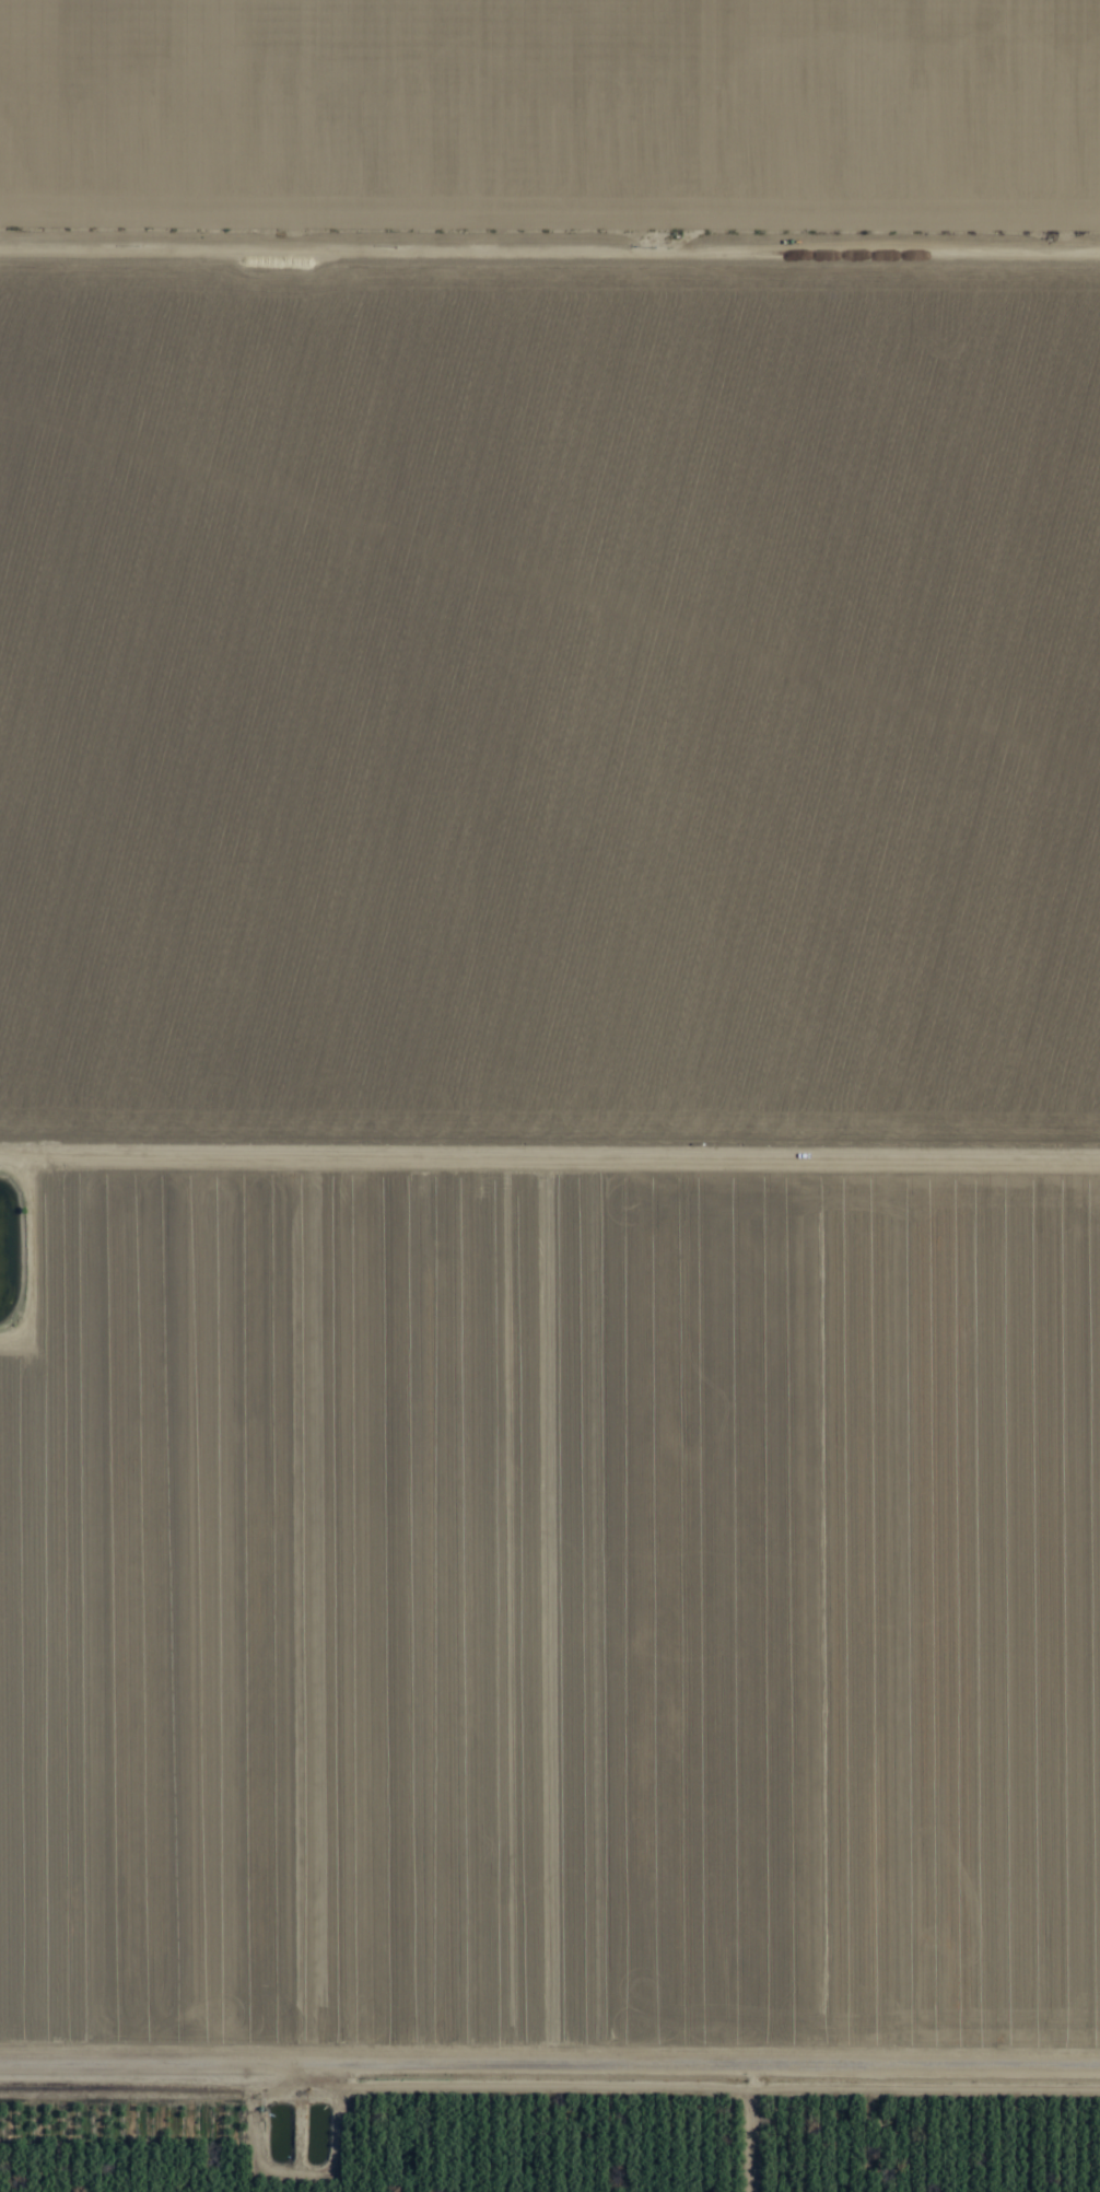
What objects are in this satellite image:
crop: (550, 1096)
road: (550, 2059)
wastewater plant: (293, 2133)

